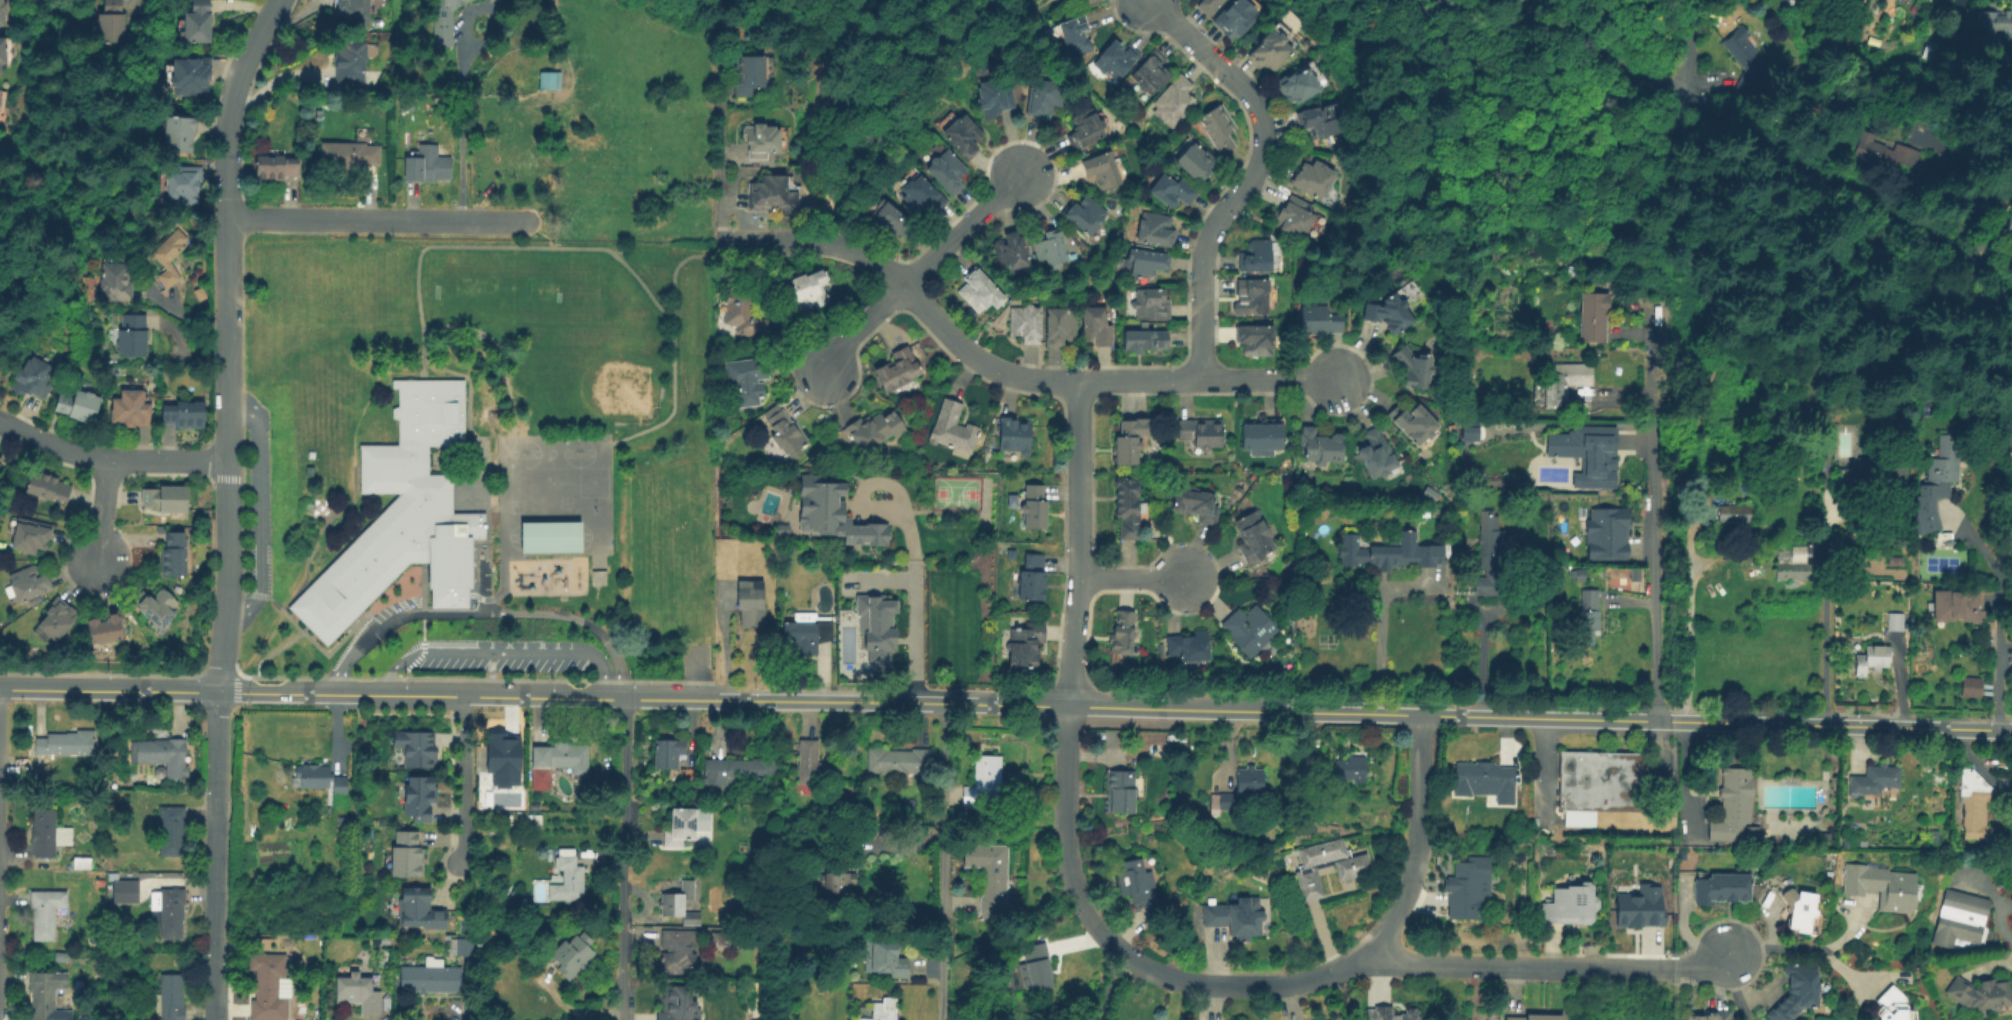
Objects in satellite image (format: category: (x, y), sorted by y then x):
building: (490, 0)
building: (1082, 0)
building: (1208, 5)
building: (4, 11)
building: (359, 12)
building: (1235, 17)
building: (116, 21)
building: (440, 21)
building: (195, 22)
building: (2000, 22)
building: (1070, 33)
building: (1267, 47)
building: (4, 52)
road: (1689, 54)
building: (1115, 59)
building: (354, 60)
building: (1747, 63)
building: (745, 72)
building: (1151, 72)
building: (191, 77)
building: (549, 82)
building: (1294, 84)
building: (987, 92)
building: (1039, 95)
building: (1, 98)
building: (1175, 100)
building: (1317, 118)
road: (463, 122)
building: (1218, 126)
building: (1085, 127)
building: (185, 132)
building: (958, 132)
building: (760, 139)
building: (1883, 152)
building: (353, 154)
road: (1767, 155)
building: (1197, 160)
building: (280, 166)
building: (425, 166)
road: (721, 169)
building: (942, 169)
building: (1101, 169)
road: (1252, 173)
building: (1312, 177)
building: (186, 186)
building: (1172, 189)
building: (768, 191)
building: (918, 193)
building: (1086, 214)
building: (1292, 215)
building: (887, 218)
road: (375, 220)
building: (2010, 224)
building: (1155, 228)
road: (962, 232)
road: (540, 234)
building: (1050, 246)
road: (452, 247)
building: (1010, 248)
building: (1256, 254)
building: (168, 260)
building: (1147, 260)
road: (879, 266)
building: (120, 279)
building: (978, 290)
building: (803, 291)
building: (1254, 293)
building: (1148, 303)
building: (1387, 311)
building: (741, 314)
building: (1594, 315)
building: (1319, 319)
building: (1026, 322)
building: (1059, 324)
building: (1096, 324)
road: (861, 327)
building: (136, 335)
building: (1255, 338)
building: (1145, 339)
road: (224, 340)
road: (674, 346)
road: (498, 350)
building: (1413, 365)
road: (423, 367)
building: (898, 368)
park: (603, 369)
building: (1853, 373)
building: (36, 377)
building: (747, 378)
building: (1566, 380)
road: (1271, 381)
road: (1102, 382)
building: (81, 405)
building: (134, 407)
building: (187, 413)
building: (2008, 417)
building: (1413, 422)
building: (952, 427)
building: (876, 429)
building: (1201, 431)
building: (783, 432)
building: (1260, 432)
building: (1013, 434)
building: (1470, 434)
building: (1128, 440)
building: (2009, 441)
building: (1320, 444)
building: (1376, 453)
building: (1588, 454)
building: (1, 459)
road: (108, 464)
building: (1941, 466)
building: (1872, 474)
building: (50, 487)
park: (957, 495)
building: (169, 498)
building: (1013, 503)
building: (1195, 503)
road: (1654, 505)
building: (1127, 506)
building: (1142, 507)
building: (1034, 509)
road: (101, 513)
road: (259, 513)
building: (1732, 513)
building: (832, 514)
road: (451, 515)
building: (400, 518)
building: (782, 532)
road: (488, 535)
building: (1607, 535)
road: (318, 536)
building: (1252, 537)
building: (33, 538)
building: (547, 540)
park: (547, 540)
road: (2006, 543)
road: (1077, 544)
building: (1388, 552)
building: (1490, 553)
building: (1010, 554)
building: (177, 555)
road: (580, 556)
building: (1896, 561)
building: (1795, 562)
park: (1940, 563)
building: (1579, 573)
building: (1632, 574)
road: (1823, 575)
building: (1031, 576)
road: (1135, 578)
road: (479, 580)
building: (31, 583)
road: (264, 597)
road: (489, 599)
road: (910, 599)
building: (749, 602)
building: (1953, 602)
building: (158, 606)
road: (485, 613)
building: (1591, 616)
road: (1687, 616)
building: (59, 619)
building: (1895, 620)
building: (876, 623)
building: (110, 628)
building: (1249, 628)
road: (1377, 630)
building: (806, 631)
building: (1122, 631)
road: (1998, 643)
building: (1022, 645)
building: (1189, 645)
road: (423, 647)
road: (324, 653)
road: (501, 653)
road: (270, 655)
building: (1876, 657)
road: (1480, 660)
road: (237, 685)
building: (1970, 686)
road: (358, 693)
road: (1364, 712)
building: (65, 742)
building: (415, 750)
building: (666, 753)
building: (164, 757)
building: (501, 759)
building: (897, 761)
building: (556, 762)
road: (1544, 765)
building: (814, 766)
building: (1350, 769)
building: (735, 770)
building: (1483, 776)
building: (319, 778)
building: (1316, 778)
road: (460, 779)
building: (1873, 780)
building: (1249, 782)
building: (983, 784)
building: (1599, 784)
building: (1119, 790)
building: (417, 801)
building: (1226, 801)
building: (1973, 804)
building: (1731, 805)
building: (679, 828)
building: (169, 829)
building: (1750, 831)
building: (47, 834)
building: (1933, 836)
building: (1824, 839)
building: (1845, 844)
road: (212, 855)
building: (1519, 858)
road: (621, 859)
building: (405, 860)
road: (940, 861)
building: (80, 863)
building: (1353, 871)
building: (567, 880)
building: (1135, 880)
building: (993, 881)
building: (835, 883)
building: (1880, 886)
building: (1466, 889)
building: (1720, 889)
building: (125, 892)
building: (679, 903)
building: (1798, 907)
building: (1567, 908)
building: (1644, 908)
building: (169, 911)
building: (45, 913)
building: (418, 914)
building: (1235, 917)
building: (1959, 918)
road: (2003, 927)
building: (556, 939)
building: (720, 939)
building: (385, 941)
building: (461, 947)
road: (1801, 947)
building: (677, 952)
building: (570, 955)
building: (886, 959)
building: (1035, 967)
road: (1516, 968)
road: (1703, 971)
building: (430, 978)
road: (1109, 986)
road: (1734, 986)
road: (1238, 987)
building: (1796, 992)
building: (266, 993)
building: (358, 993)
building: (1981, 994)
building: (44, 995)
building: (169, 999)
building: (677, 1004)
building: (1892, 1006)
building: (880, 1013)
building: (1391, 1014)
building: (1710, 1016)
building: (1535, 1017)
building: (755, 1019)

